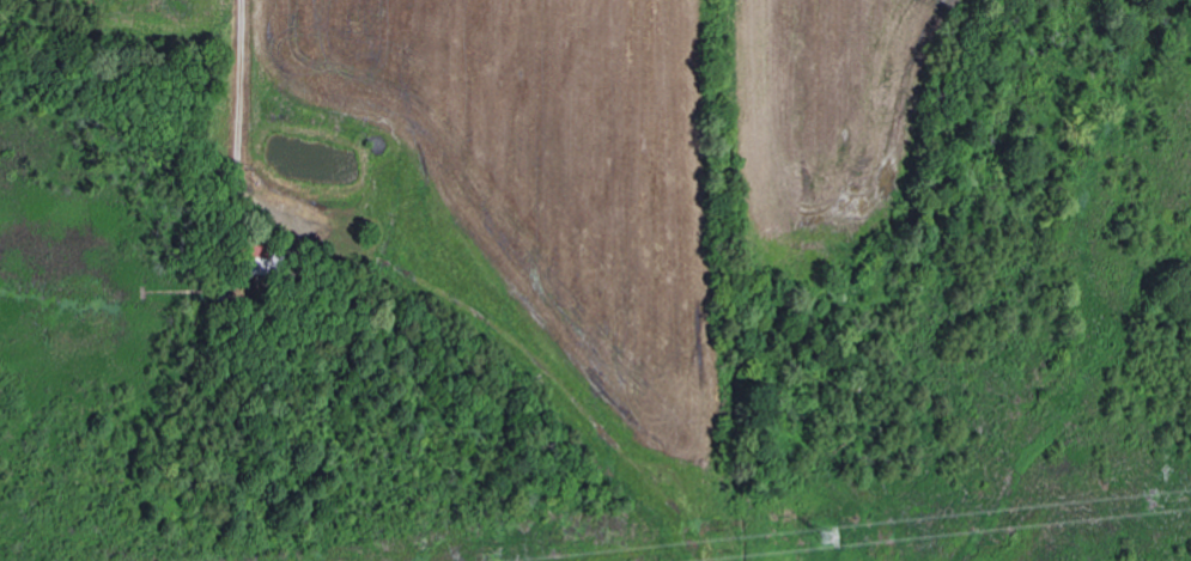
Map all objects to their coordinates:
power tower: (827, 539)

